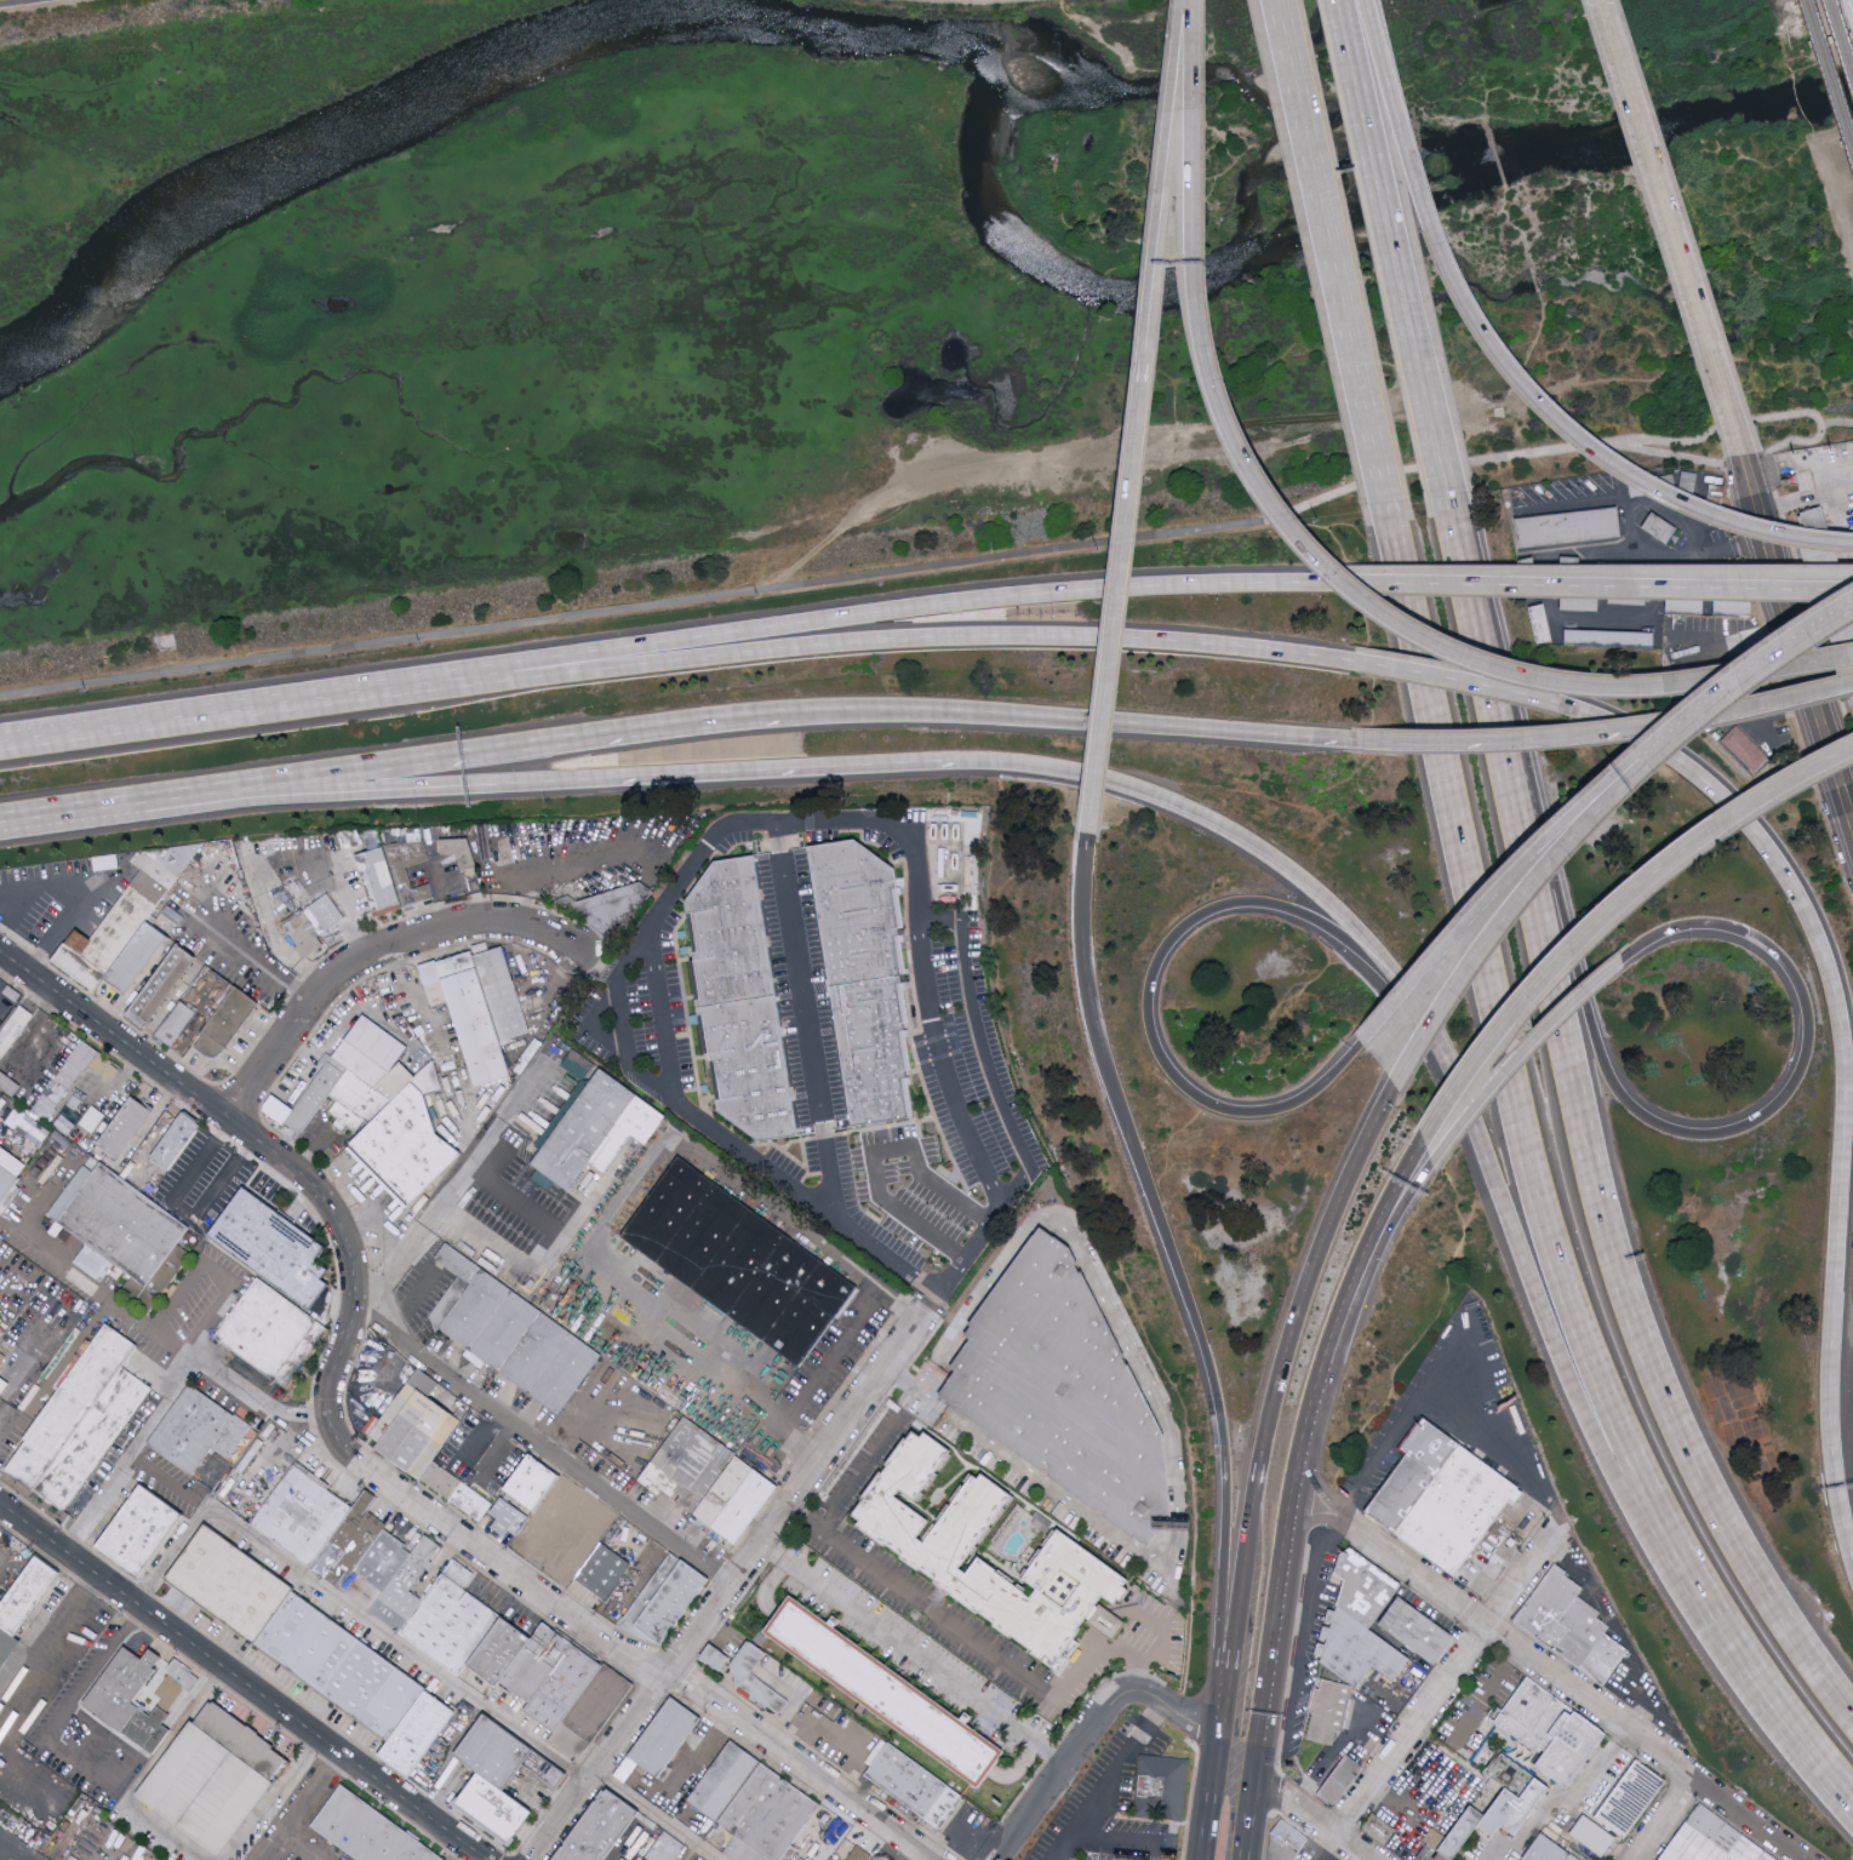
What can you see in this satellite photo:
road: (6, 0)
railway: (1849, 10)
railway: (1840, 40)
railway: (1828, 78)
river: (988, 80)
road: (1163, 137)
road: (1851, 222)
road: (1674, 229)
road: (1395, 250)
road: (1329, 253)
road: (1841, 267)
road: (1146, 328)
road: (1508, 365)
road: (1786, 443)
road: (1686, 460)
road: (1807, 499)
building: (1572, 527)
building: (1660, 527)
road: (1634, 537)
road: (1311, 551)
road: (931, 566)
road: (1596, 586)
road: (1115, 605)
building: (1542, 620)
road: (766, 626)
road: (1735, 634)
building: (1612, 636)
road: (1798, 636)
road: (776, 648)
road: (1775, 654)
road: (1469, 682)
road: (1745, 708)
road: (1091, 721)
road: (98, 728)
road: (1624, 731)
road: (1539, 738)
road: (1416, 742)
building: (1744, 748)
road: (480, 751)
road: (883, 763)
road: (650, 776)
road: (319, 792)
road: (72, 813)
road: (732, 822)
building: (404, 835)
road: (1256, 843)
building: (457, 853)
road: (572, 864)
road: (1522, 866)
building: (402, 875)
building: (381, 880)
road: (440, 886)
road: (1534, 886)
building: (168, 888)
road: (265, 906)
road: (348, 909)
building: (611, 909)
road: (1609, 912)
building: (313, 926)
building: (107, 938)
road: (1169, 940)
road: (367, 952)
building: (137, 955)
road: (257, 960)
road: (396, 973)
building: (867, 973)
building: (160, 981)
building: (503, 994)
building: (742, 1000)
building: (469, 1012)
road: (660, 1015)
road: (803, 1019)
building: (227, 1021)
building: (177, 1025)
building: (13, 1029)
road: (983, 1052)
road: (1520, 1055)
building: (379, 1070)
building: (16, 1078)
building: (65, 1081)
road: (1845, 1081)
building: (314, 1100)
building: (356, 1104)
building: (68, 1122)
building: (125, 1126)
building: (33, 1128)
building: (88, 1131)
building: (595, 1131)
road: (1728, 1132)
building: (170, 1137)
road: (1577, 1137)
building: (406, 1146)
road: (310, 1150)
building: (105, 1154)
building: (144, 1172)
building: (6, 1180)
road: (456, 1185)
road: (1537, 1186)
building: (916, 1187)
road: (625, 1198)
road: (183, 1207)
road: (1509, 1215)
road: (358, 1220)
road: (1071, 1232)
building: (127, 1237)
road: (543, 1242)
road: (400, 1244)
building: (274, 1247)
building: (740, 1261)
road: (70, 1266)
road: (1361, 1267)
road: (1311, 1270)
road: (385, 1274)
road: (1367, 1280)
road: (1180, 1281)
building: (452, 1300)
road: (155, 1326)
building: (267, 1329)
building: (521, 1343)
road: (824, 1362)
road: (1471, 1369)
road: (899, 1379)
road: (917, 1385)
building: (2, 1386)
building: (1069, 1390)
building: (70, 1408)
road: (1, 1426)
building: (416, 1427)
building: (199, 1432)
road: (1305, 1440)
building: (96, 1442)
road: (542, 1446)
road: (128, 1450)
road: (496, 1452)
road: (360, 1463)
building: (451, 1463)
building: (688, 1465)
road: (158, 1472)
road: (857, 1473)
building: (1418, 1475)
building: (533, 1482)
road: (1252, 1499)
road: (1317, 1500)
building: (738, 1501)
building: (473, 1505)
building: (1463, 1511)
building: (304, 1516)
building: (507, 1517)
road: (1312, 1523)
road: (1106, 1528)
building: (570, 1529)
building: (139, 1530)
building: (351, 1545)
building: (932, 1552)
road: (173, 1555)
building: (424, 1561)
road: (1562, 1561)
road: (647, 1564)
building: (378, 1572)
road: (1242, 1573)
building: (605, 1574)
road: (734, 1575)
building: (230, 1584)
building: (1369, 1587)
road: (1682, 1598)
building: (664, 1603)
building: (23, 1604)
building: (390, 1618)
building: (452, 1623)
road: (1304, 1623)
road: (1275, 1624)
building: (1574, 1629)
building: (1422, 1631)
road: (1163, 1632)
road: (399, 1643)
road: (979, 1647)
building: (501, 1653)
road: (910, 1653)
building: (1365, 1653)
building: (713, 1658)
building: (743, 1664)
building: (538, 1665)
building: (342, 1667)
road: (1229, 1677)
road: (1635, 1677)
road: (244, 1681)
road: (1447, 1688)
building: (566, 1689)
building: (890, 1690)
road: (1571, 1692)
building: (762, 1694)
road: (1486, 1696)
road: (194, 1698)
building: (109, 1702)
road: (788, 1707)
building: (1327, 1711)
road: (1176, 1713)
building: (593, 1715)
road: (1653, 1716)
building: (1537, 1718)
road: (1651, 1719)
road: (59, 1725)
building: (419, 1735)
building: (665, 1739)
road: (158, 1741)
road: (708, 1742)
building: (488, 1745)
road: (854, 1747)
road: (87, 1749)
building: (1579, 1751)
road: (1336, 1761)
road: (1599, 1762)
road: (1059, 1767)
building: (1498, 1772)
building: (1431, 1773)
road: (145, 1775)
building: (212, 1780)
road: (1106, 1780)
building: (909, 1781)
building: (1337, 1782)
building: (494, 1784)
building: (726, 1784)
building: (1160, 1789)
road: (273, 1797)
road: (1208, 1799)
building: (1635, 1801)
road: (301, 1804)
building: (948, 1809)
road: (652, 1816)
road: (1249, 1816)
road: (1310, 1816)
building: (767, 1819)
road: (1665, 1820)
building: (601, 1830)
building: (365, 1831)
building: (1382, 1831)
building: (1466, 1835)
road: (633, 1837)
road: (1120, 1838)
parking lot: (19, 1839)
building: (1710, 1841)
building: (1596, 1842)
road: (1, 1844)
building: (1434, 1845)
road: (1326, 1847)
road: (16, 1848)
road: (296, 1848)
road: (1495, 1849)
building: (669, 1850)
building: (1551, 1850)
building: (857, 1855)
building: (883, 1856)
road: (1060, 1856)
building: (702, 1858)
building: (876, 1858)
building: (830, 1859)

